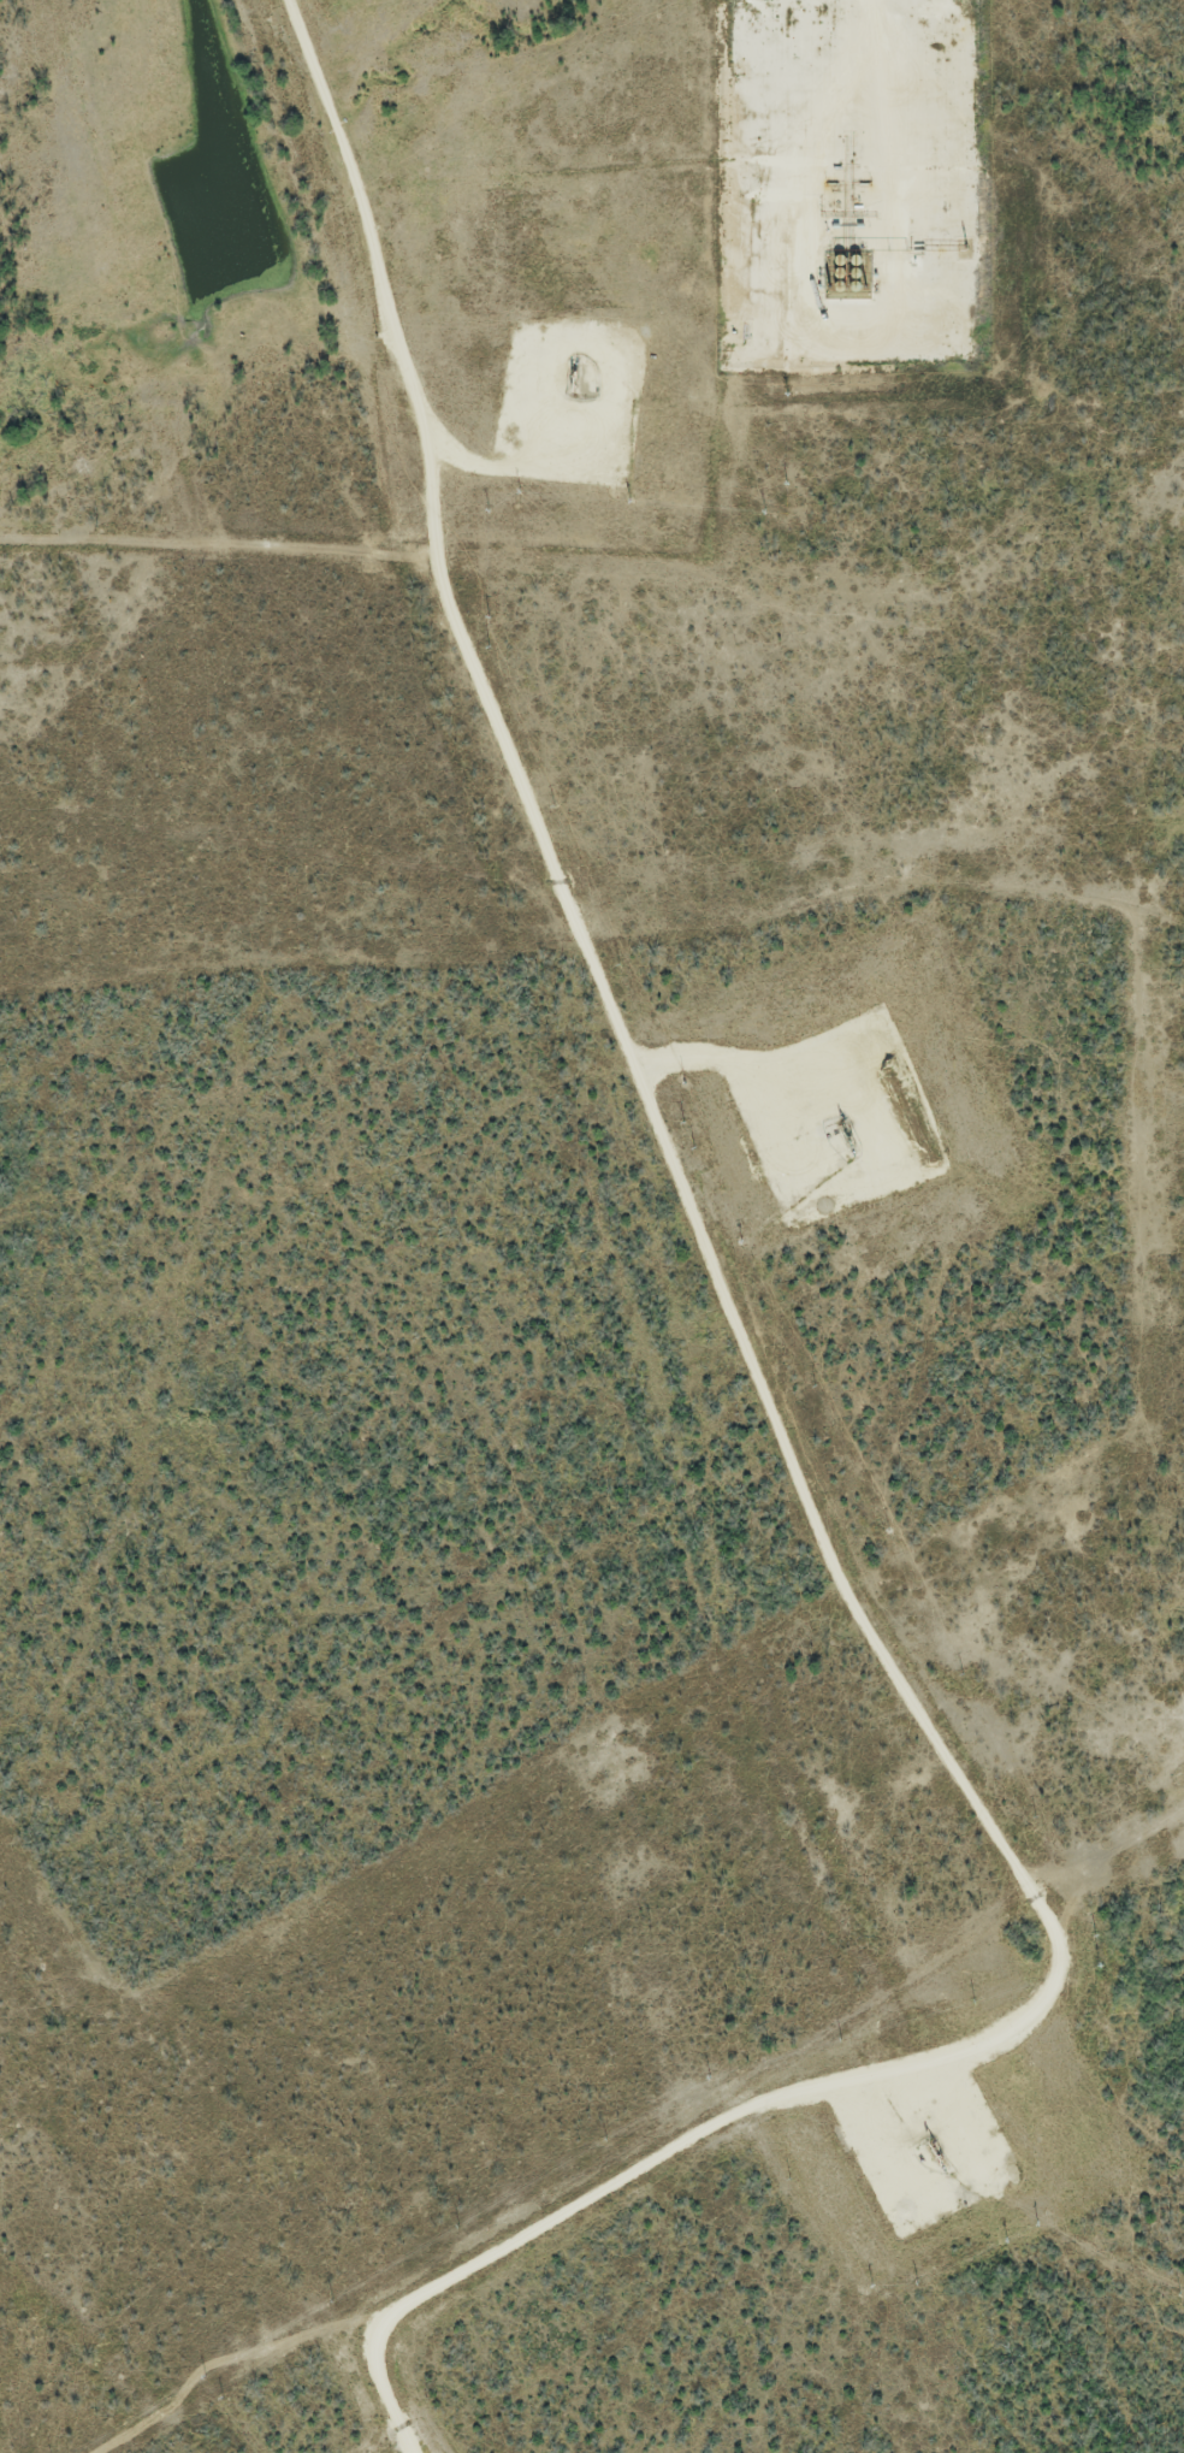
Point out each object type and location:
road: (877, 172)
road: (538, 465)
road: (775, 1083)
road: (775, 1434)
road: (889, 2148)

